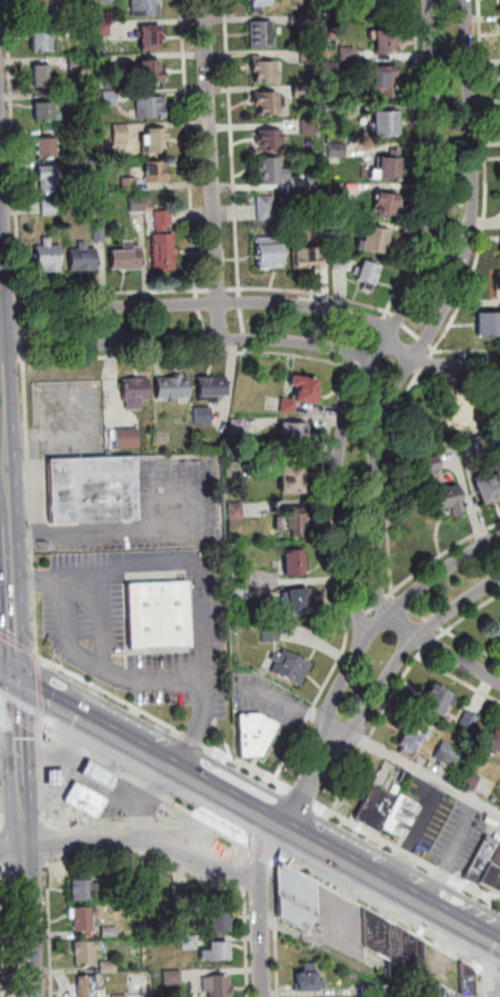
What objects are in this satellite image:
building: (111, 0)
building: (72, 1)
building: (261, 3)
building: (383, 6)
building: (147, 7)
building: (41, 8)
building: (300, 20)
building: (104, 28)
building: (262, 35)
building: (151, 37)
building: (386, 41)
building: (42, 42)
building: (349, 54)
building: (310, 57)
building: (79, 64)
building: (265, 70)
building: (331, 70)
building: (152, 72)
building: (43, 76)
building: (382, 81)
building: (302, 91)
building: (111, 98)
building: (270, 102)
building: (152, 108)
road: (484, 110)
building: (334, 112)
building: (47, 113)
building: (388, 124)
building: (314, 126)
building: (122, 134)
building: (156, 141)
building: (272, 141)
road: (191, 148)
road: (234, 148)
building: (49, 149)
building: (338, 150)
road: (424, 162)
building: (87, 167)
building: (391, 167)
road: (213, 170)
building: (272, 171)
building: (158, 172)
building: (51, 179)
building: (316, 180)
building: (130, 185)
building: (336, 191)
building: (317, 203)
building: (138, 205)
building: (387, 205)
building: (50, 207)
building: (267, 208)
building: (165, 221)
building: (338, 224)
building: (101, 235)
building: (376, 241)
building: (165, 251)
building: (271, 256)
building: (49, 257)
building: (84, 258)
building: (127, 258)
building: (307, 259)
building: (341, 261)
building: (369, 273)
building: (498, 280)
road: (219, 290)
road: (312, 292)
road: (117, 293)
street lamp: (231, 296)
road: (242, 303)
road: (199, 304)
road: (203, 304)
road: (441, 316)
road: (456, 318)
road: (400, 320)
road: (204, 322)
road: (244, 324)
road: (383, 324)
building: (489, 324)
road: (398, 325)
road: (23, 326)
road: (413, 331)
road: (211, 339)
road: (373, 339)
road: (199, 340)
road: (426, 341)
road: (435, 347)
street lamp: (433, 351)
road: (286, 354)
road: (434, 354)
road: (362, 355)
street lamp: (457, 356)
road: (120, 357)
road: (426, 364)
road: (441, 365)
road: (5, 374)
building: (306, 387)
building: (170, 390)
building: (210, 390)
building: (133, 394)
building: (289, 406)
building: (201, 418)
building: (236, 428)
building: (294, 435)
building: (124, 441)
building: (469, 449)
building: (429, 467)
building: (235, 469)
road: (388, 479)
building: (293, 481)
building: (486, 489)
road: (5, 491)
building: (90, 491)
street lamp: (333, 495)
building: (444, 501)
parking lot: (155, 511)
building: (236, 511)
building: (295, 526)
road: (326, 538)
road: (5, 547)
street lamp: (176, 549)
street lamp: (85, 552)
building: (294, 566)
road: (199, 571)
road: (420, 571)
building: (242, 584)
road: (11, 594)
street lamp: (382, 594)
road: (104, 601)
building: (300, 603)
building: (156, 612)
road: (386, 618)
building: (499, 620)
building: (499, 624)
road: (443, 629)
road: (397, 631)
street lamp: (35, 634)
building: (272, 634)
road: (16, 642)
parking lot: (91, 643)
road: (407, 651)
road: (35, 654)
road: (457, 661)
building: (292, 668)
road: (116, 672)
road: (8, 678)
road: (458, 678)
road: (400, 679)
traffic signals: (16, 683)
road: (39, 694)
parking lot: (263, 696)
parking lot: (265, 696)
street lamp: (227, 699)
building: (436, 700)
building: (453, 701)
road: (52, 703)
road: (308, 710)
road: (20, 719)
road: (303, 721)
building: (470, 721)
building: (252, 732)
building: (411, 738)
road: (366, 741)
building: (492, 743)
road: (374, 745)
street lamp: (316, 746)
building: (449, 754)
road: (20, 764)
street lamp: (232, 765)
road: (43, 775)
road: (123, 775)
building: (100, 777)
road: (270, 778)
road: (347, 779)
building: (56, 780)
building: (471, 781)
road: (306, 783)
street lamp: (278, 791)
building: (86, 801)
parking lot: (135, 803)
building: (375, 810)
parking lot: (430, 811)
building: (400, 814)
road: (2, 821)
road: (125, 821)
road: (25, 822)
road: (216, 823)
road: (199, 828)
road: (294, 834)
road: (237, 835)
parking lot: (464, 838)
road: (205, 842)
road: (78, 843)
road: (239, 848)
road: (261, 849)
road: (1, 850)
building: (482, 860)
road: (201, 863)
road: (1, 870)
road: (240, 873)
building: (492, 875)
building: (137, 886)
building: (85, 891)
building: (181, 893)
building: (297, 899)
road: (342, 903)
road: (264, 904)
road: (381, 914)
building: (84, 919)
road: (27, 921)
parking lot: (342, 923)
building: (220, 924)
road: (278, 927)
building: (110, 932)
road: (4, 933)
road: (51, 933)
building: (191, 943)
road: (250, 943)
building: (396, 948)
building: (87, 953)
building: (217, 953)
road: (340, 956)
building: (109, 967)
road: (498, 971)
road: (492, 975)
building: (173, 978)
building: (310, 981)
building: (468, 982)
road: (479, 982)
building: (92, 986)
building: (218, 986)
building: (445, 992)
building: (121, 996)

